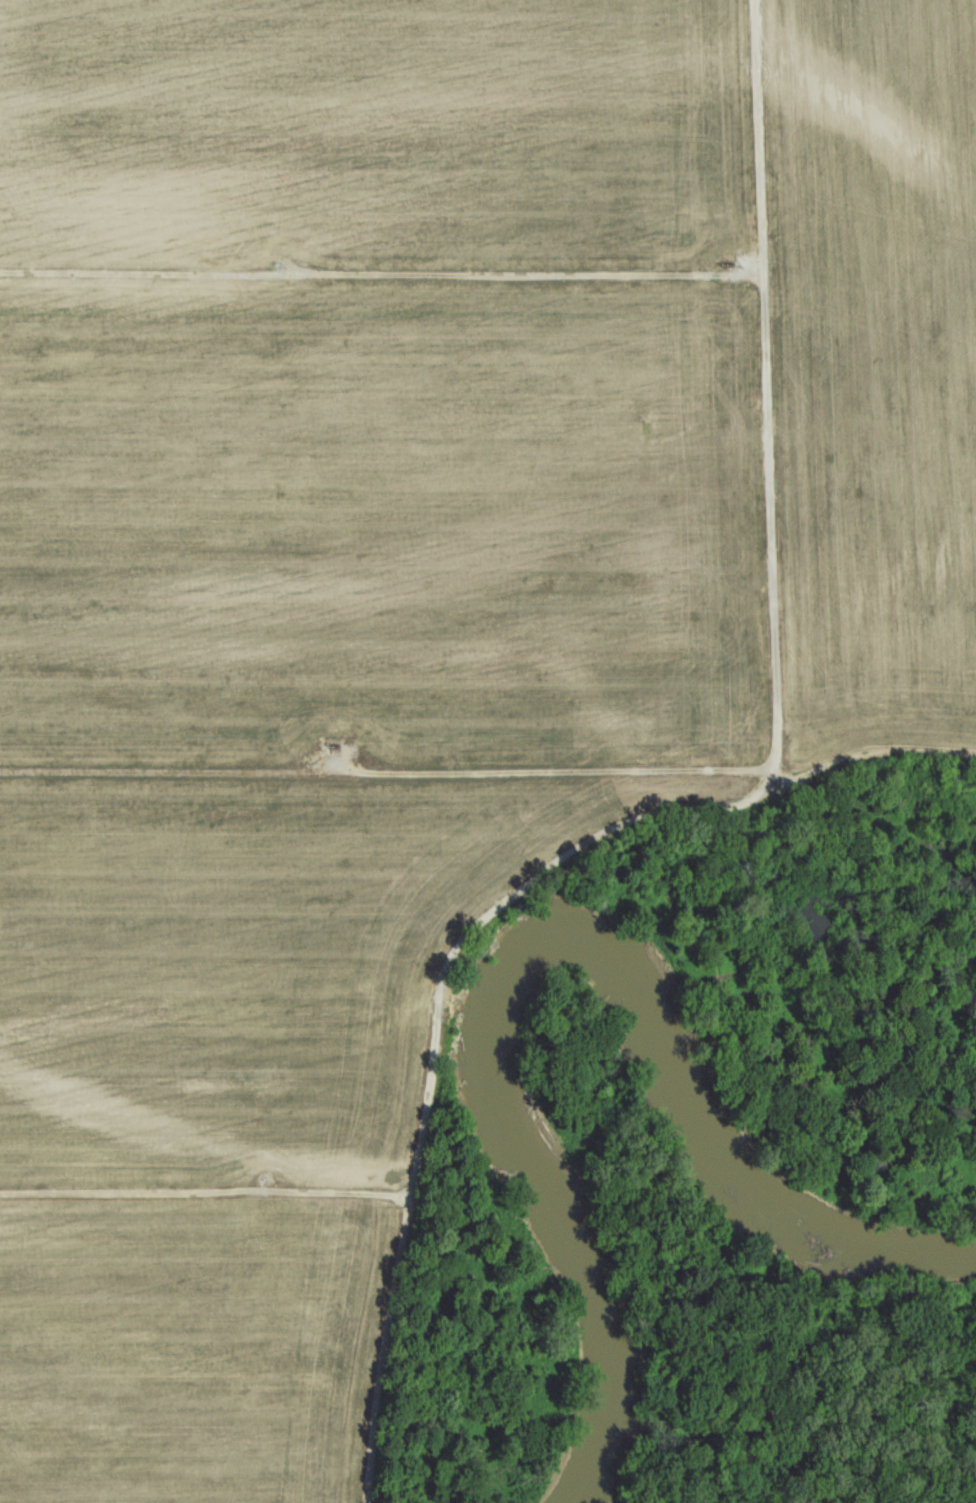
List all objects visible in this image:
road: (769, 383)
road: (870, 757)
road: (387, 774)
road: (506, 904)
river: (545, 943)
road: (206, 1192)
road: (389, 1349)

